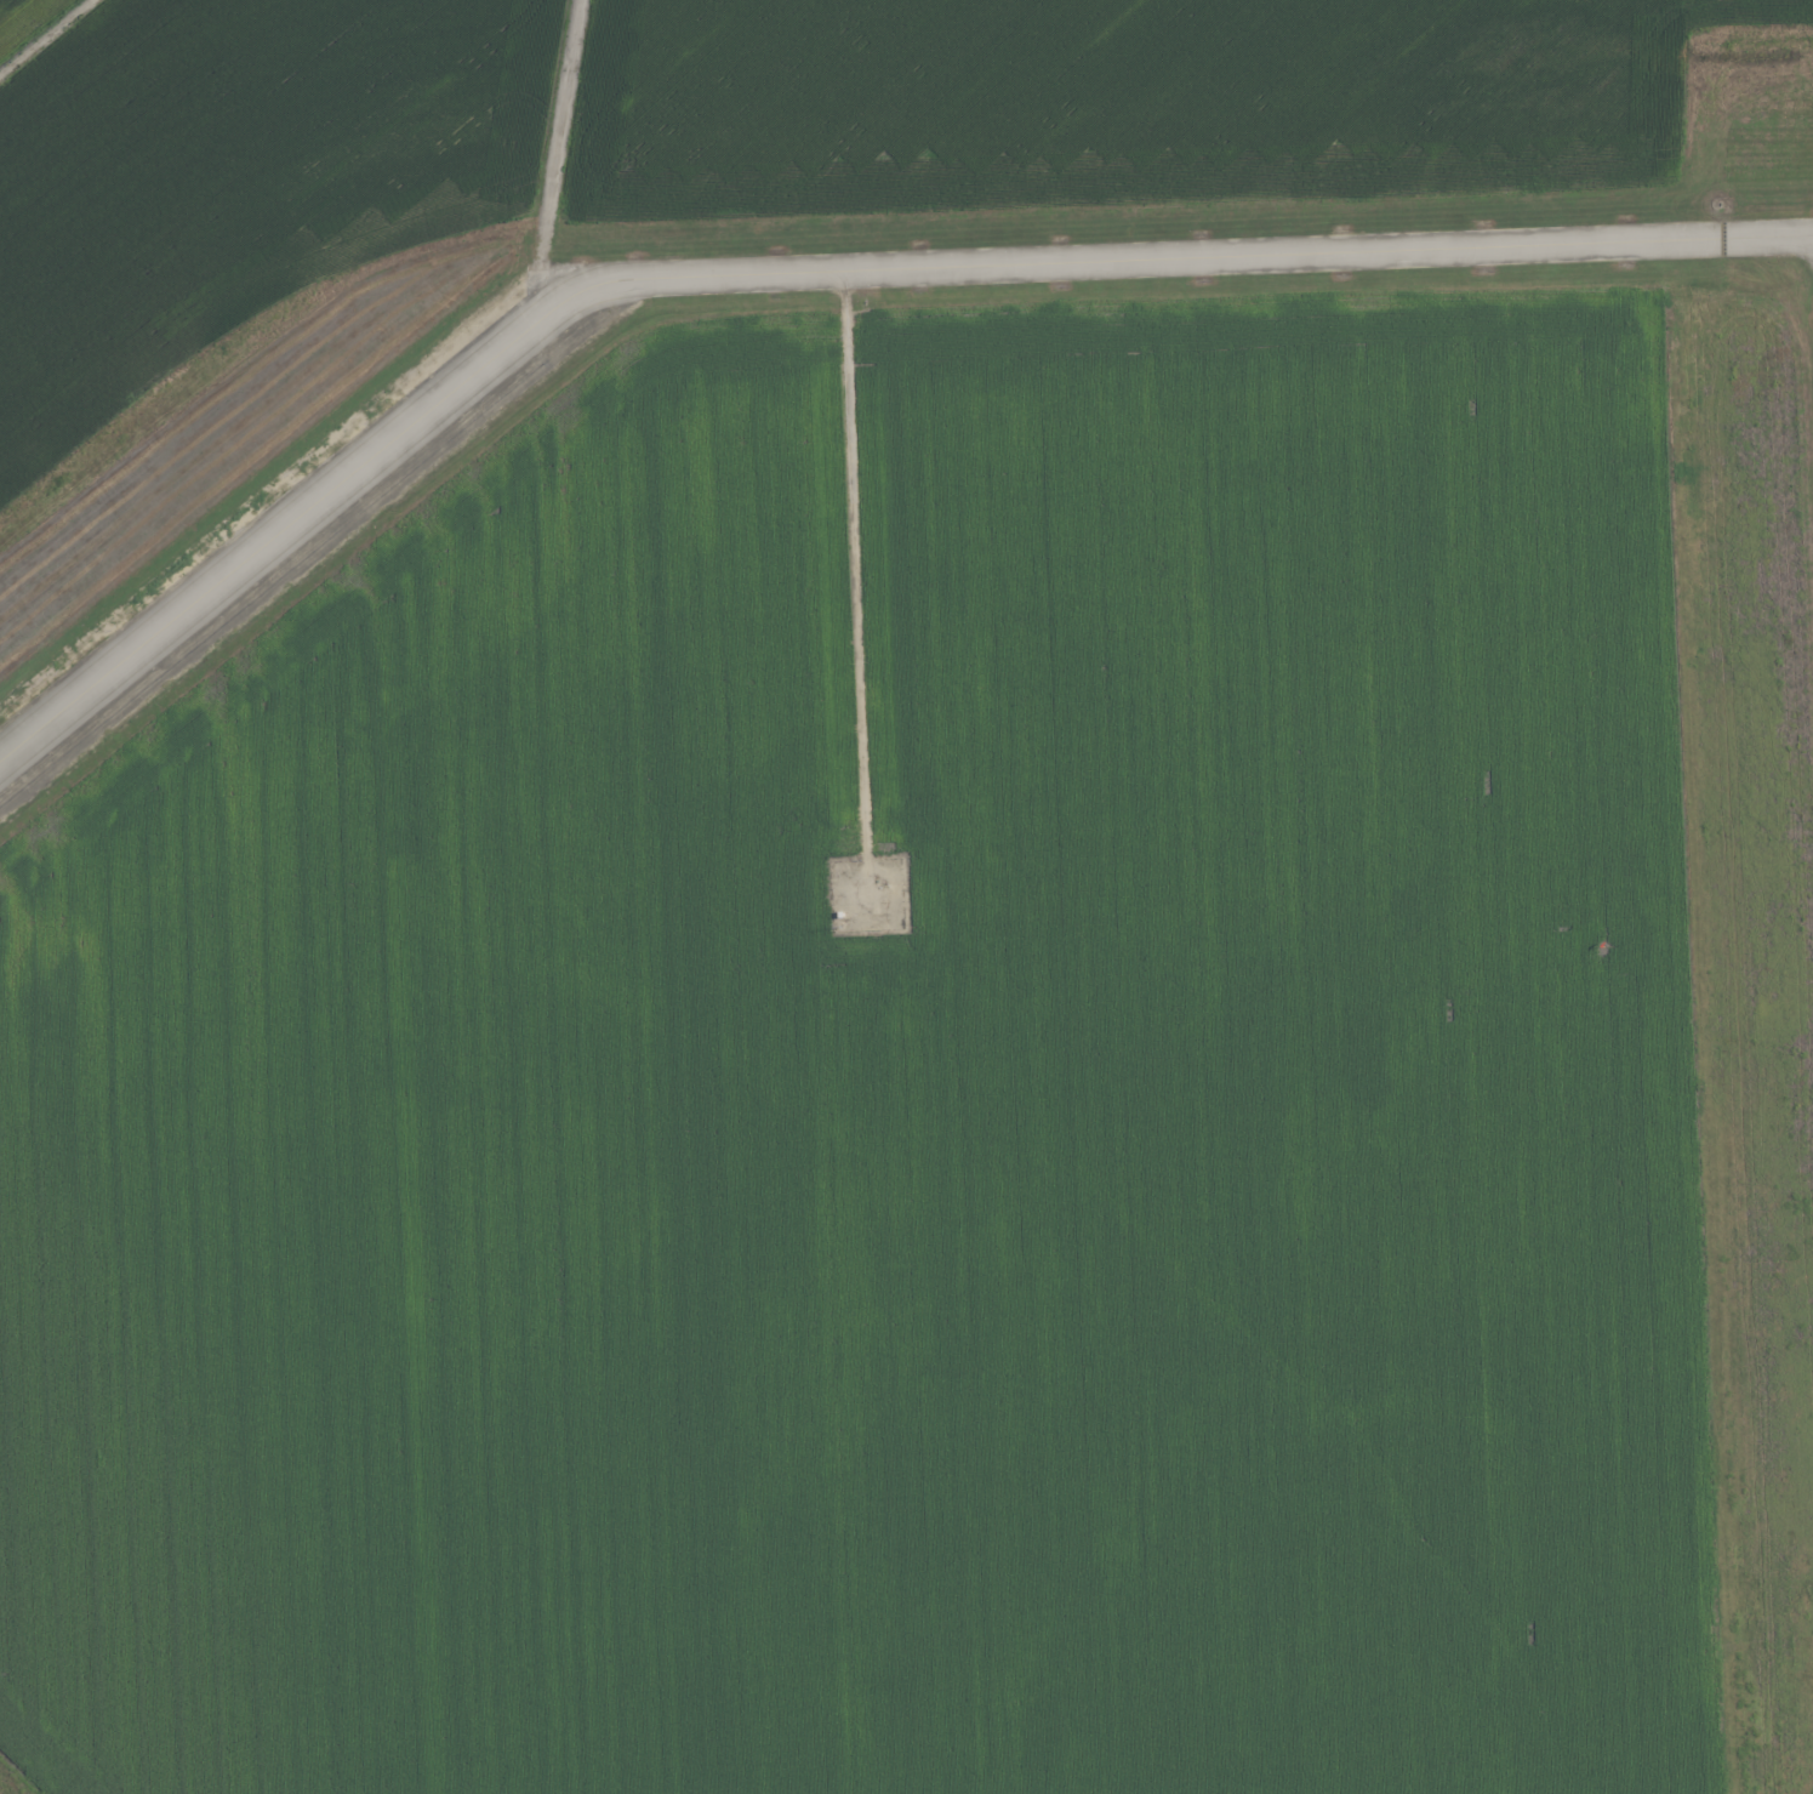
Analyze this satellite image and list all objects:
road: (548, 170)
airport taxiway: (822, 273)
airport: (907, 898)

